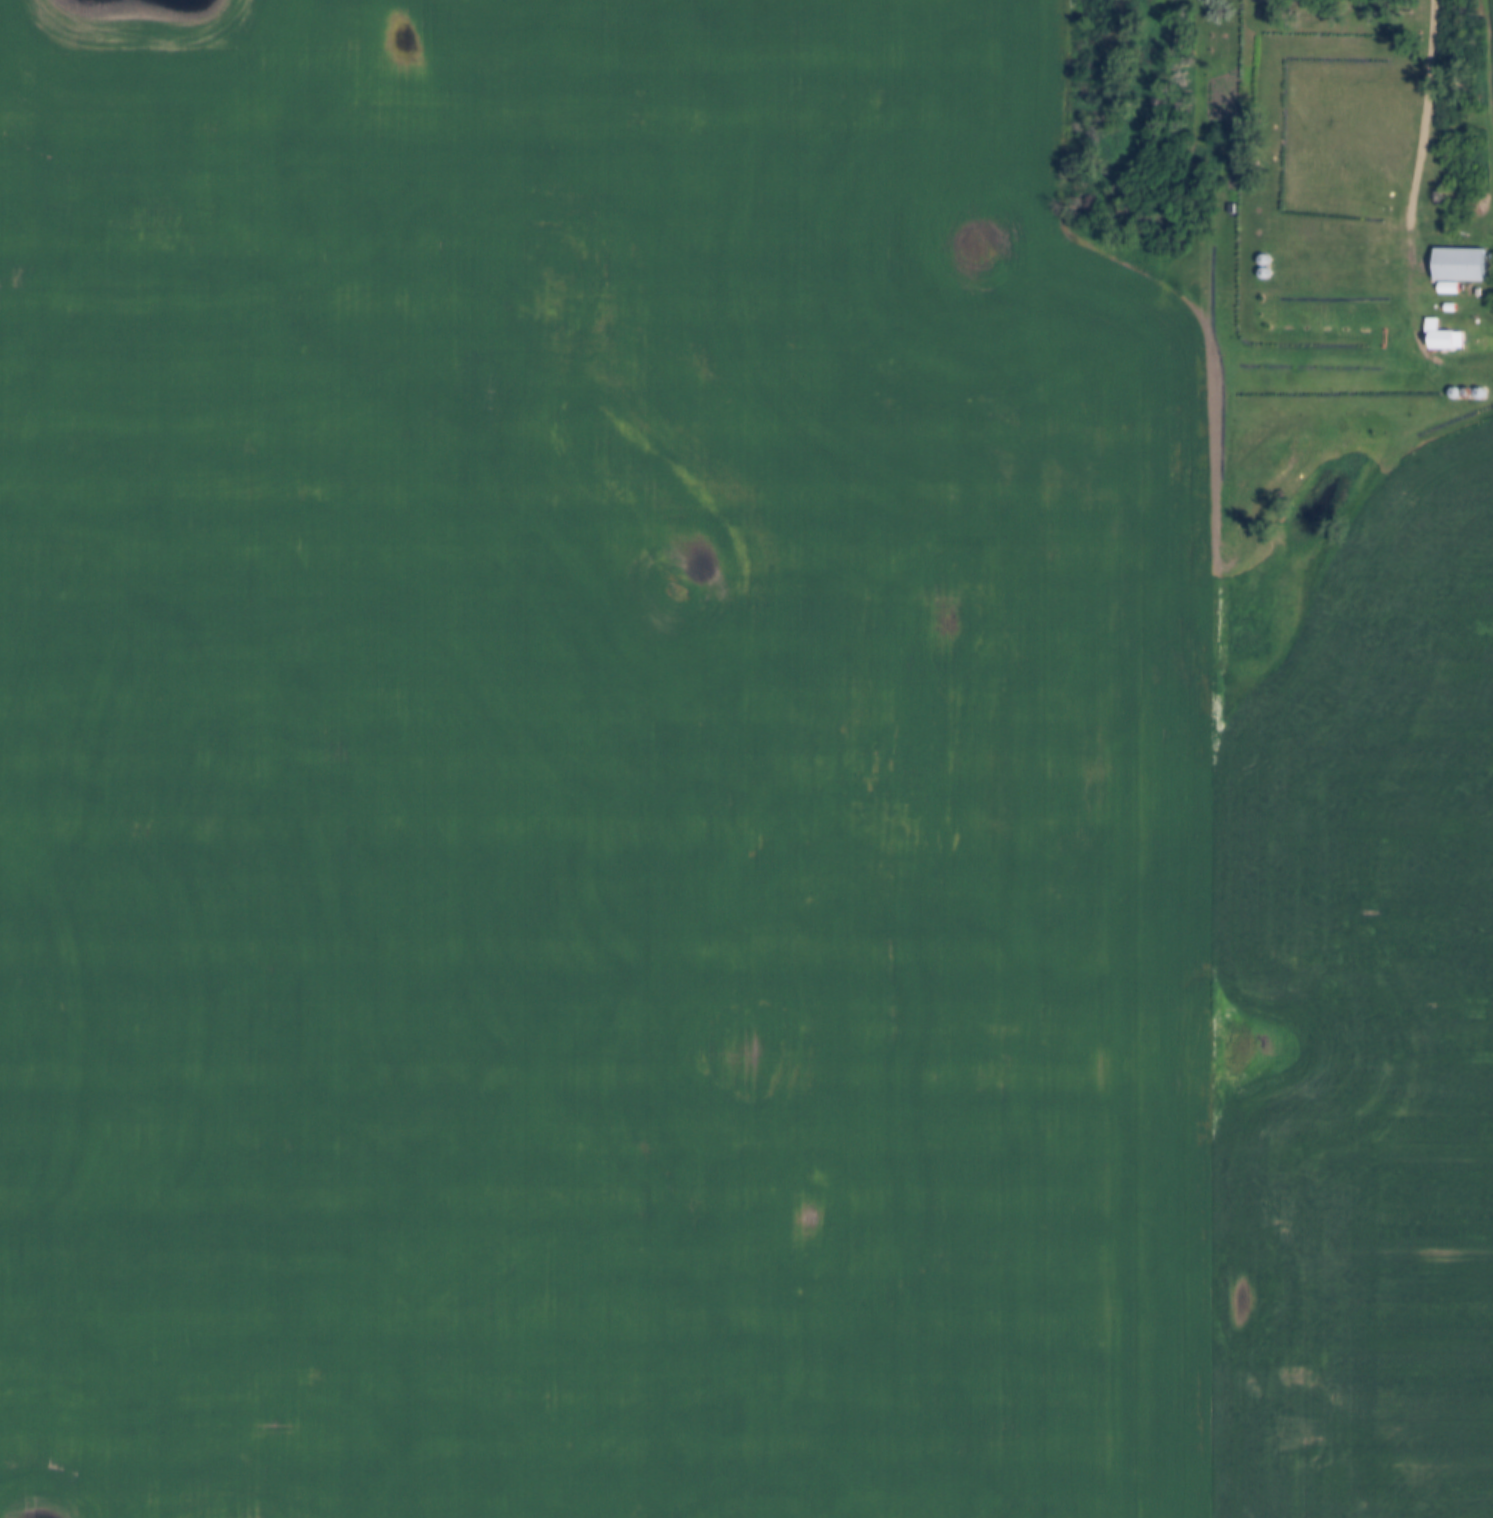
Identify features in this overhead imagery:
road: (1429, 108)
building: (1464, 265)
building: (1446, 341)

